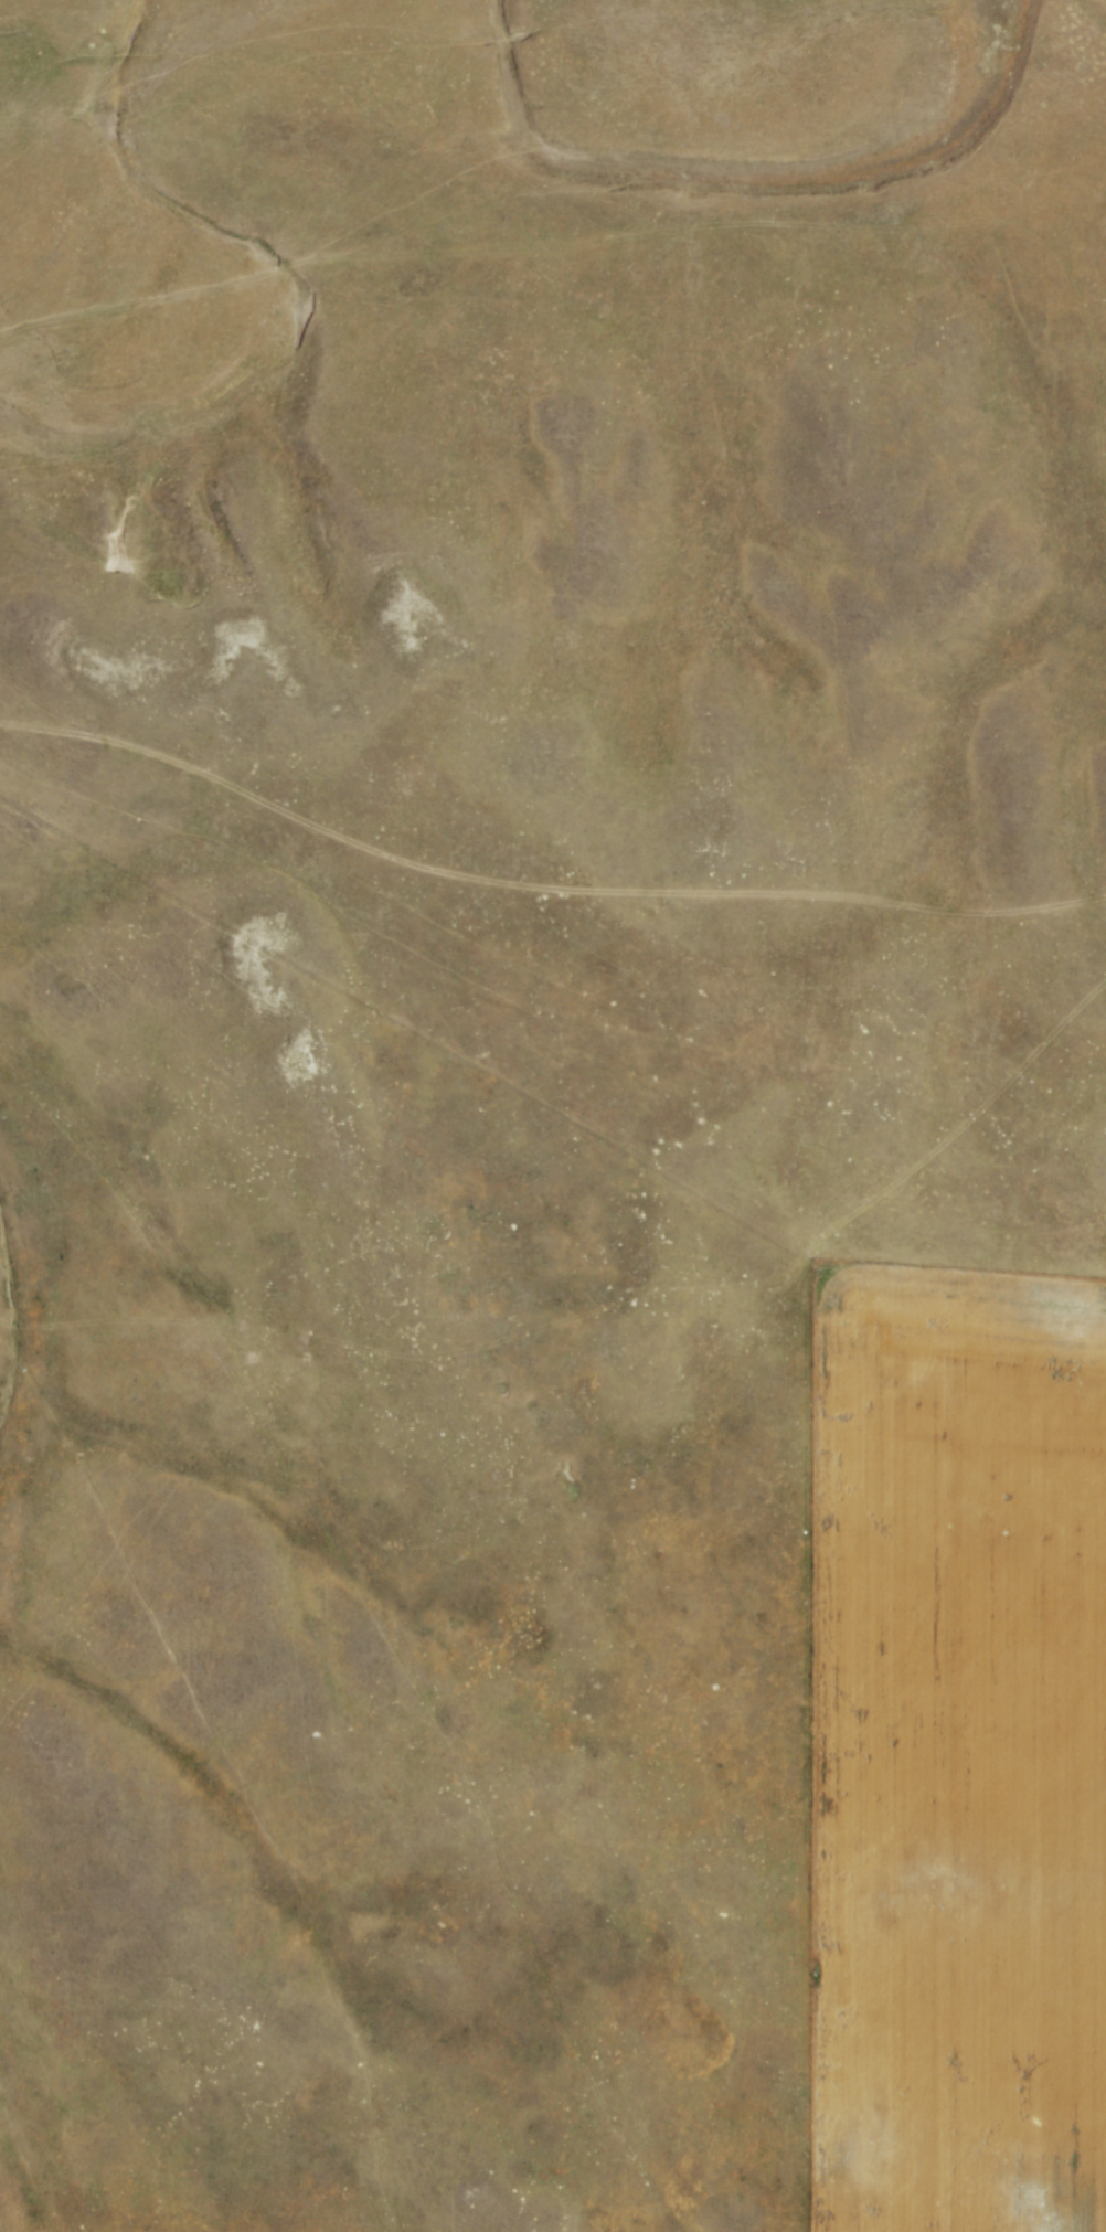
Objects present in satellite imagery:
crop: (954, 1754)

